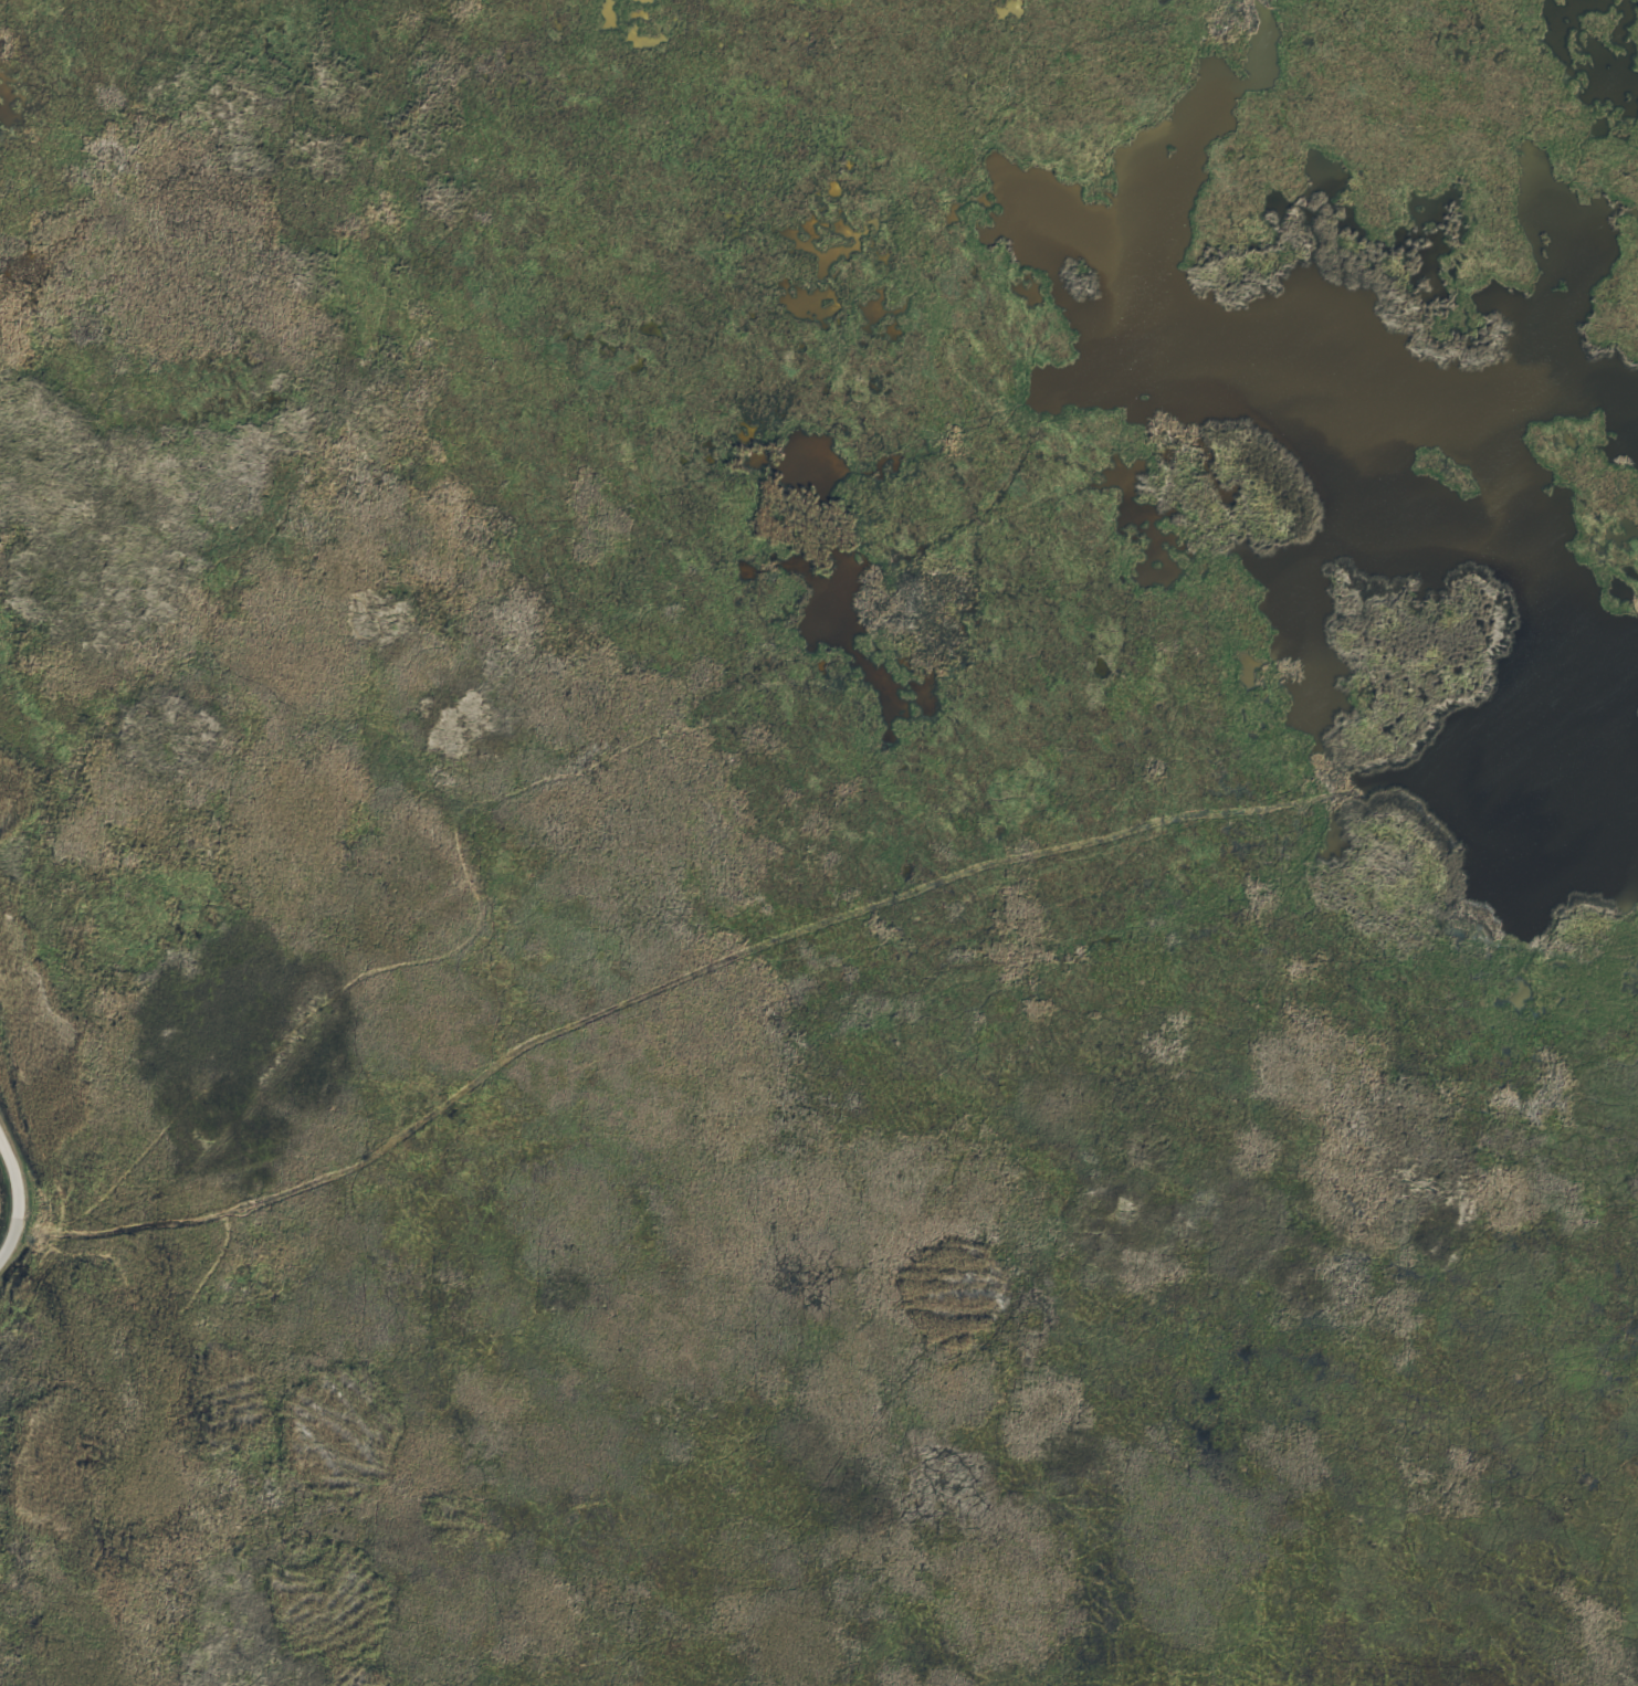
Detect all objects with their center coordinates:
road: (23, 1192)

